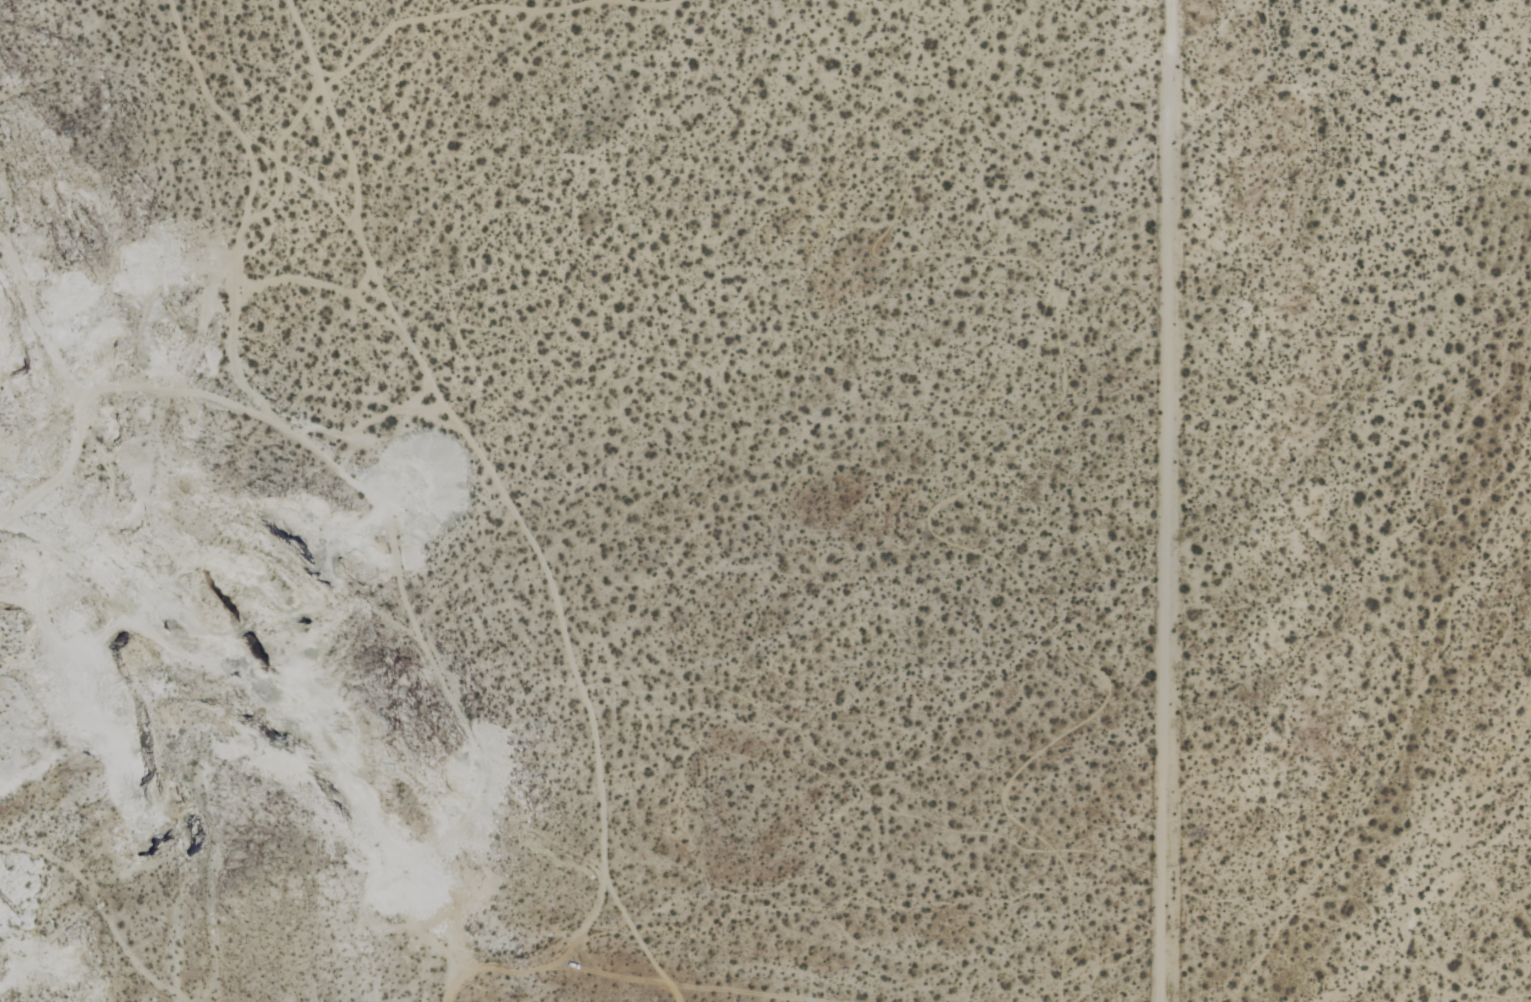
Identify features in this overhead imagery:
road: (1164, 500)
quarry: (259, 635)

